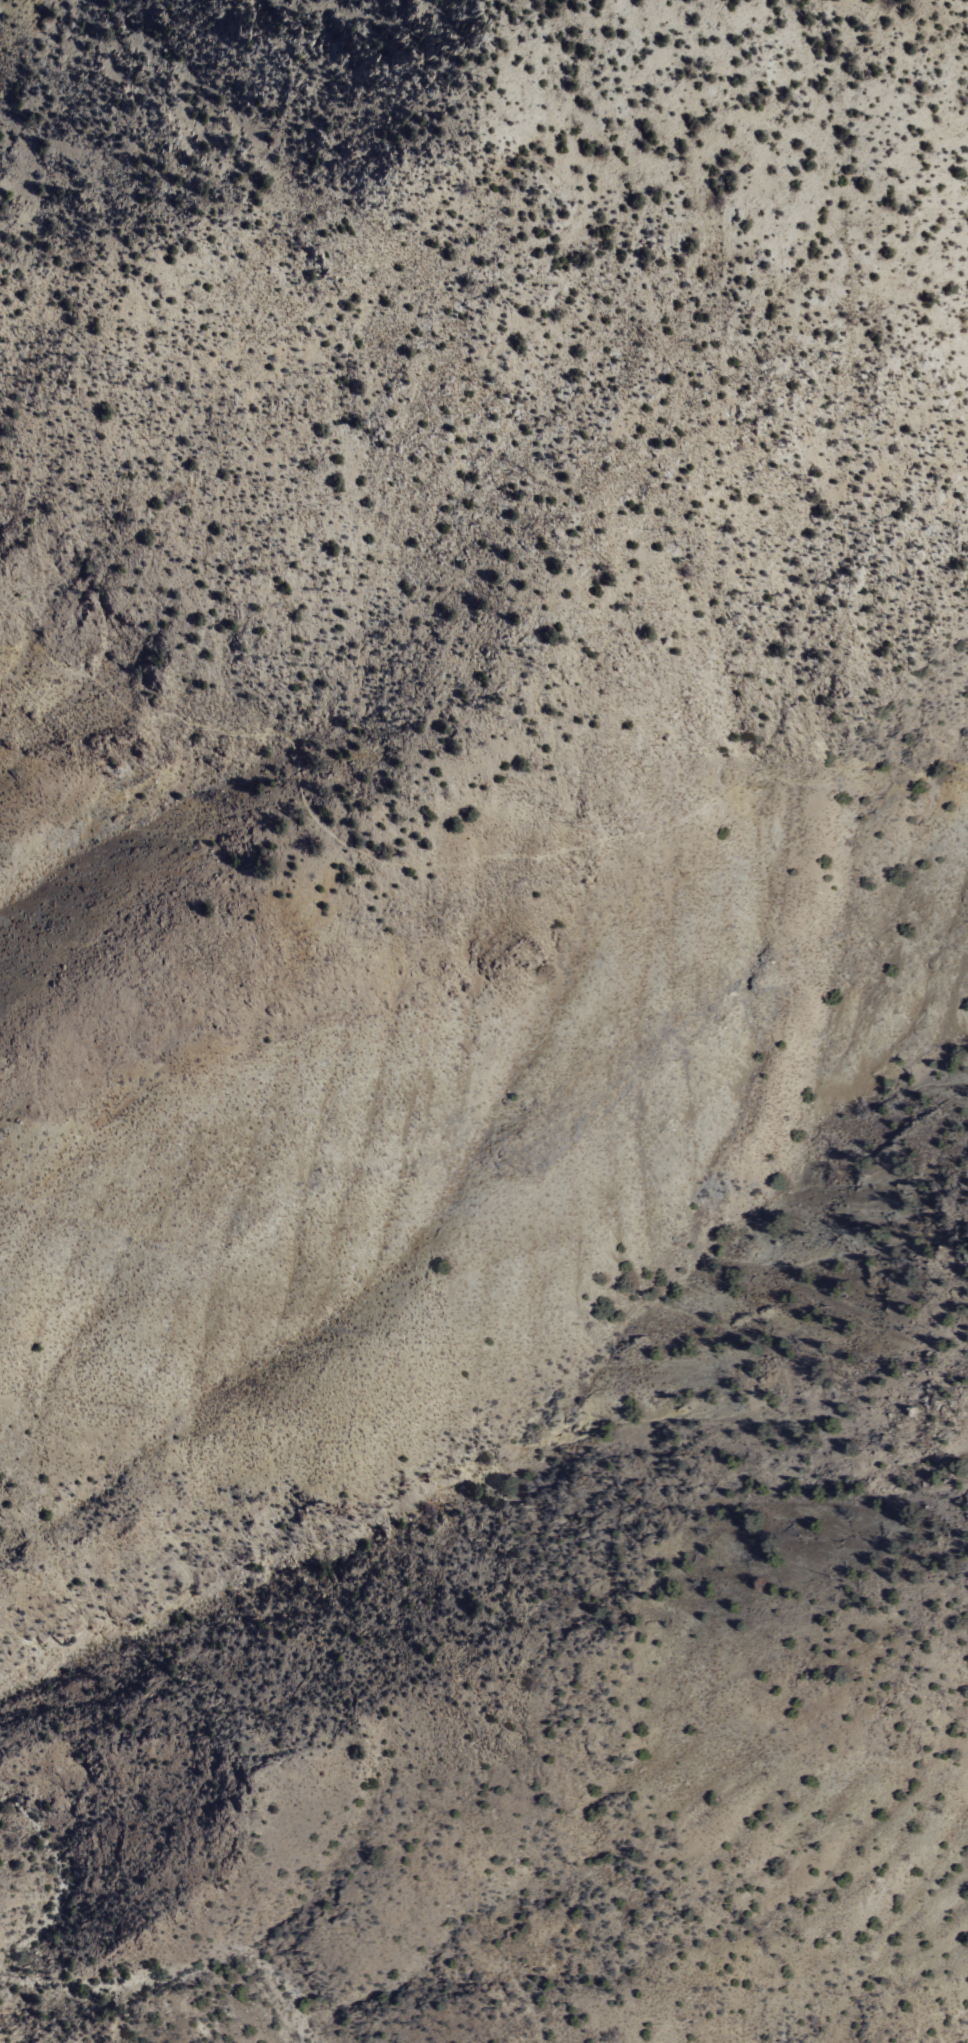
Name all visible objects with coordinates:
road: (467, 836)

